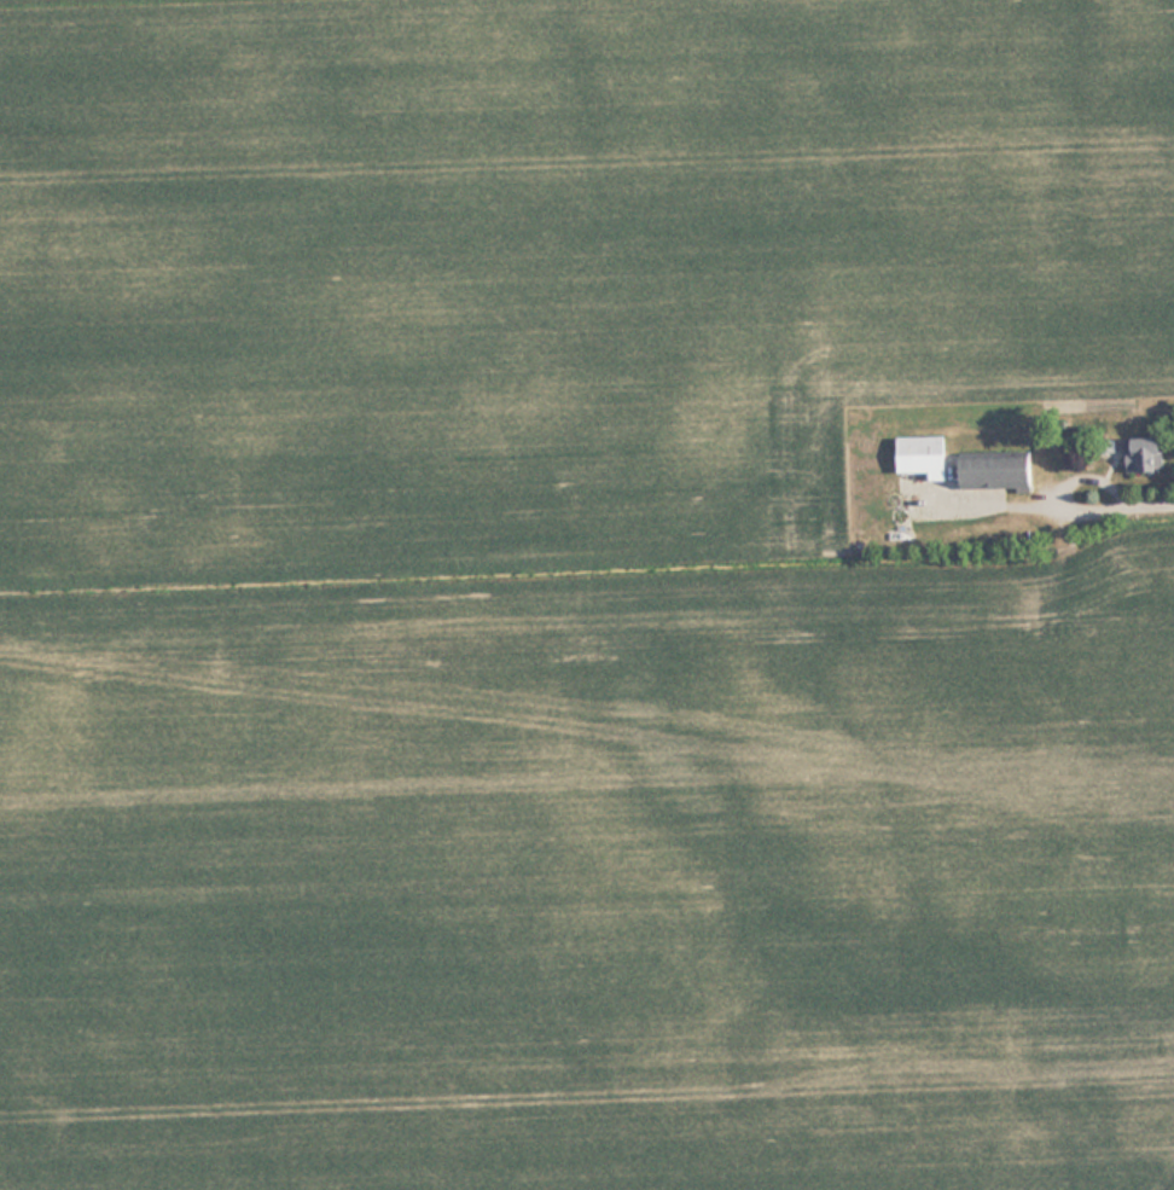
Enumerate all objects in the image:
building: (1145, 453)
building: (926, 455)
building: (1000, 471)
building: (1031, 604)

